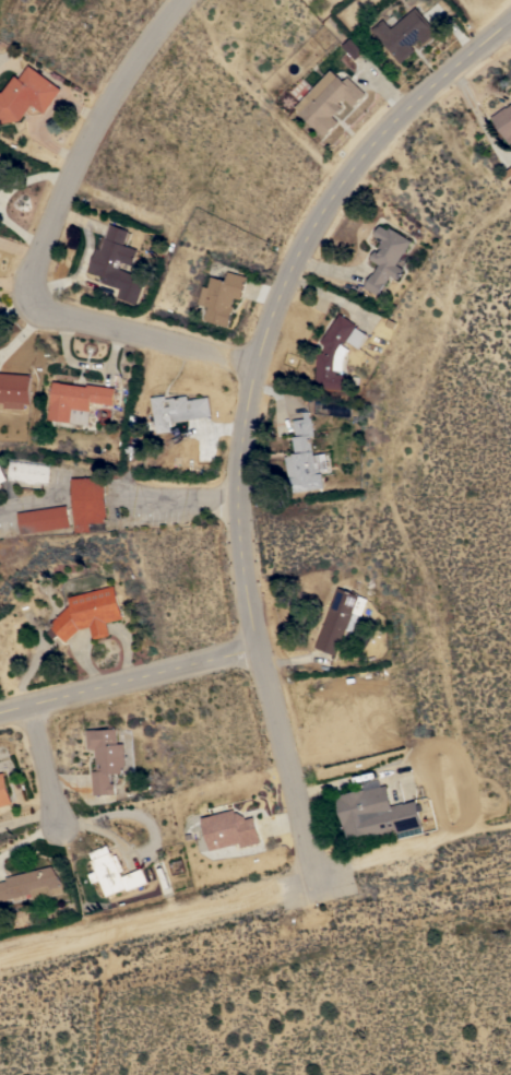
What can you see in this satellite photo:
park: (0, 0)
building: (404, 34)
building: (353, 48)
building: (26, 94)
building: (328, 101)
building: (503, 121)
building: (2, 169)
building: (1, 178)
road: (39, 250)
building: (387, 257)
building: (117, 264)
building: (222, 296)
road: (13, 307)
building: (336, 352)
building: (15, 389)
building: (76, 401)
road: (246, 409)
building: (178, 410)
building: (305, 459)
building: (29, 472)
building: (2, 473)
road: (62, 498)
road: (171, 499)
road: (90, 500)
building: (88, 501)
road: (25, 505)
building: (44, 519)
building: (88, 613)
building: (341, 618)
road: (129, 678)
building: (106, 758)
road: (43, 765)
building: (4, 790)
building: (376, 812)
building: (230, 829)
road: (145, 850)
building: (114, 872)
building: (161, 872)
building: (32, 884)
road: (158, 923)

